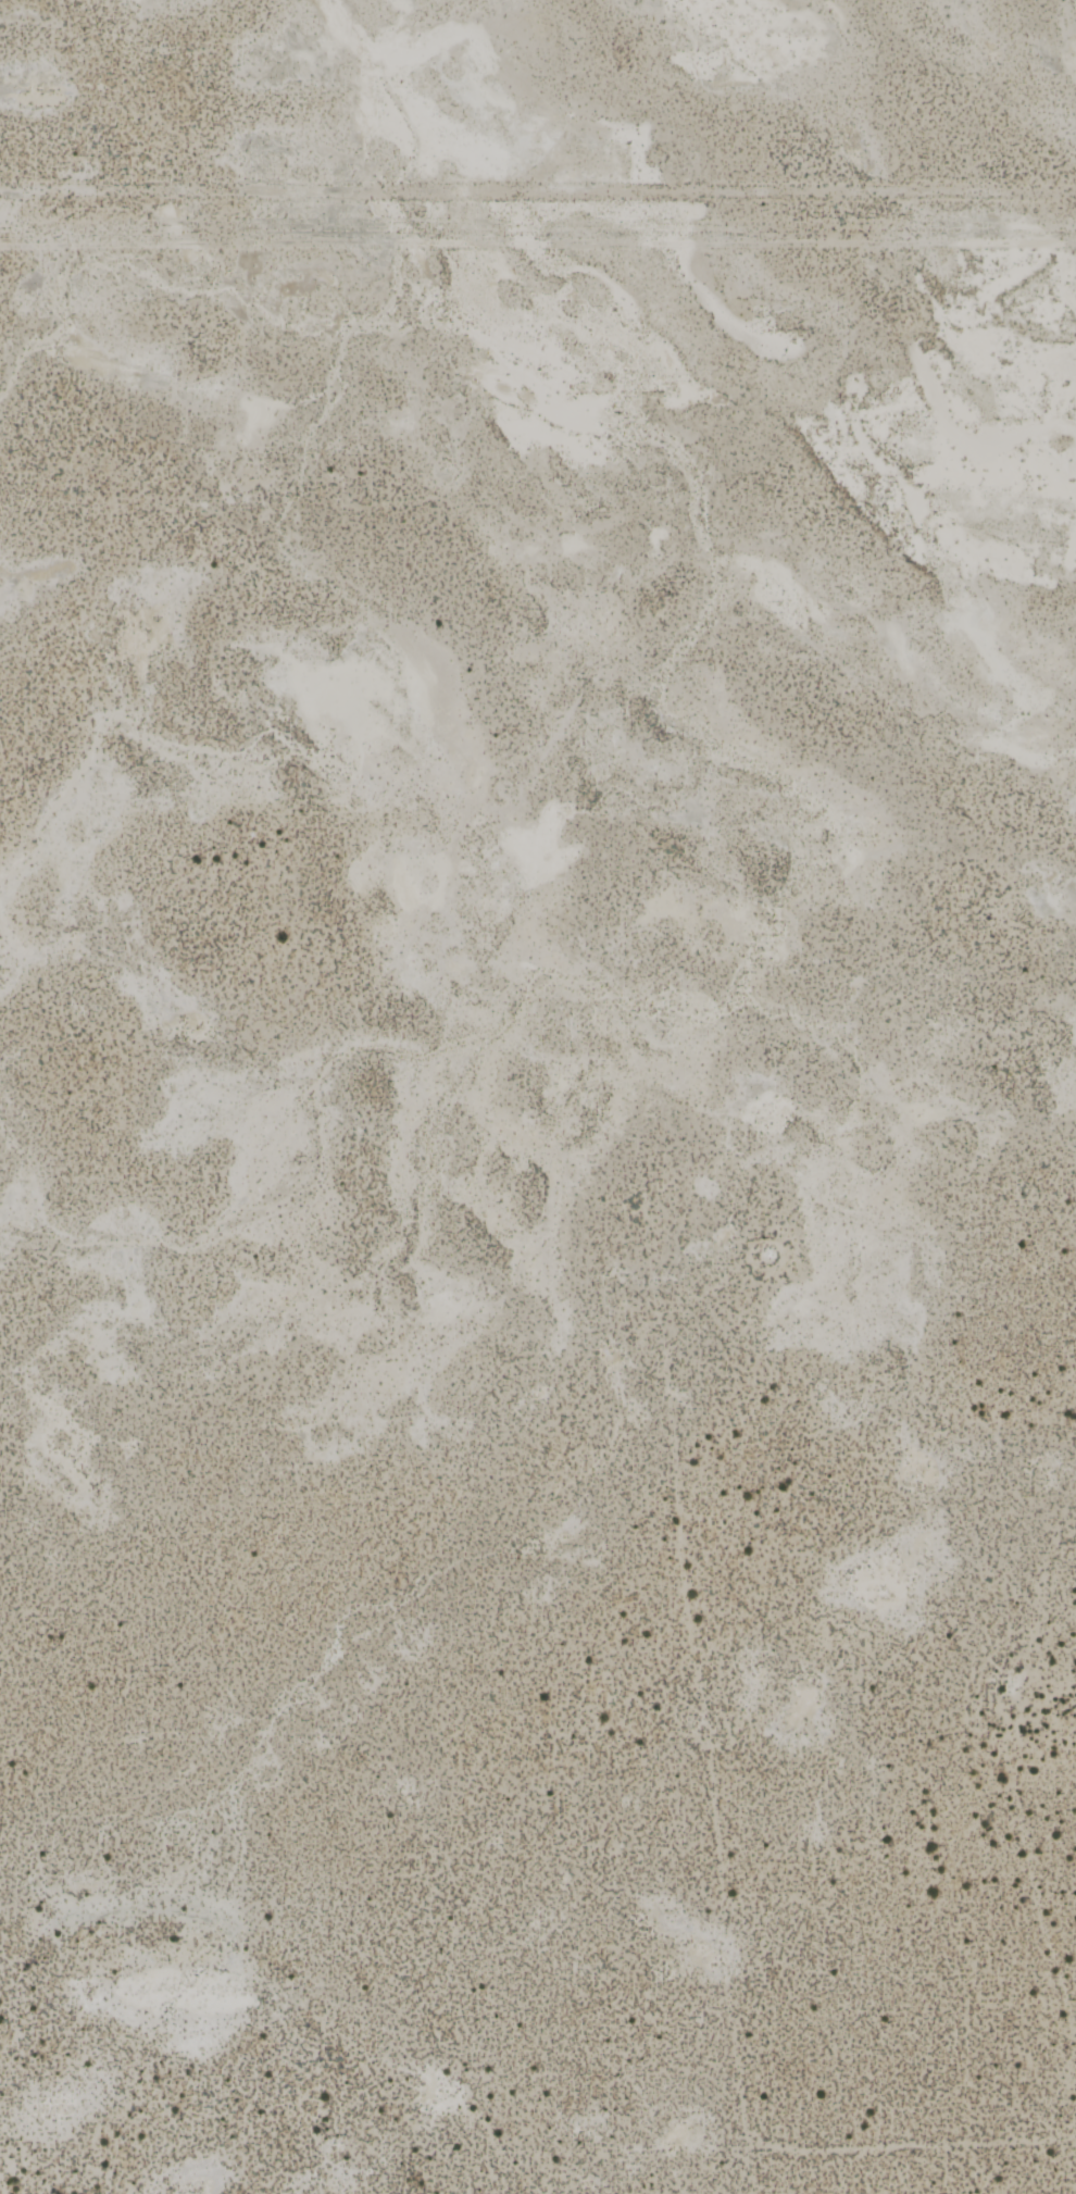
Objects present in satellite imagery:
airport: (538, 1219)

